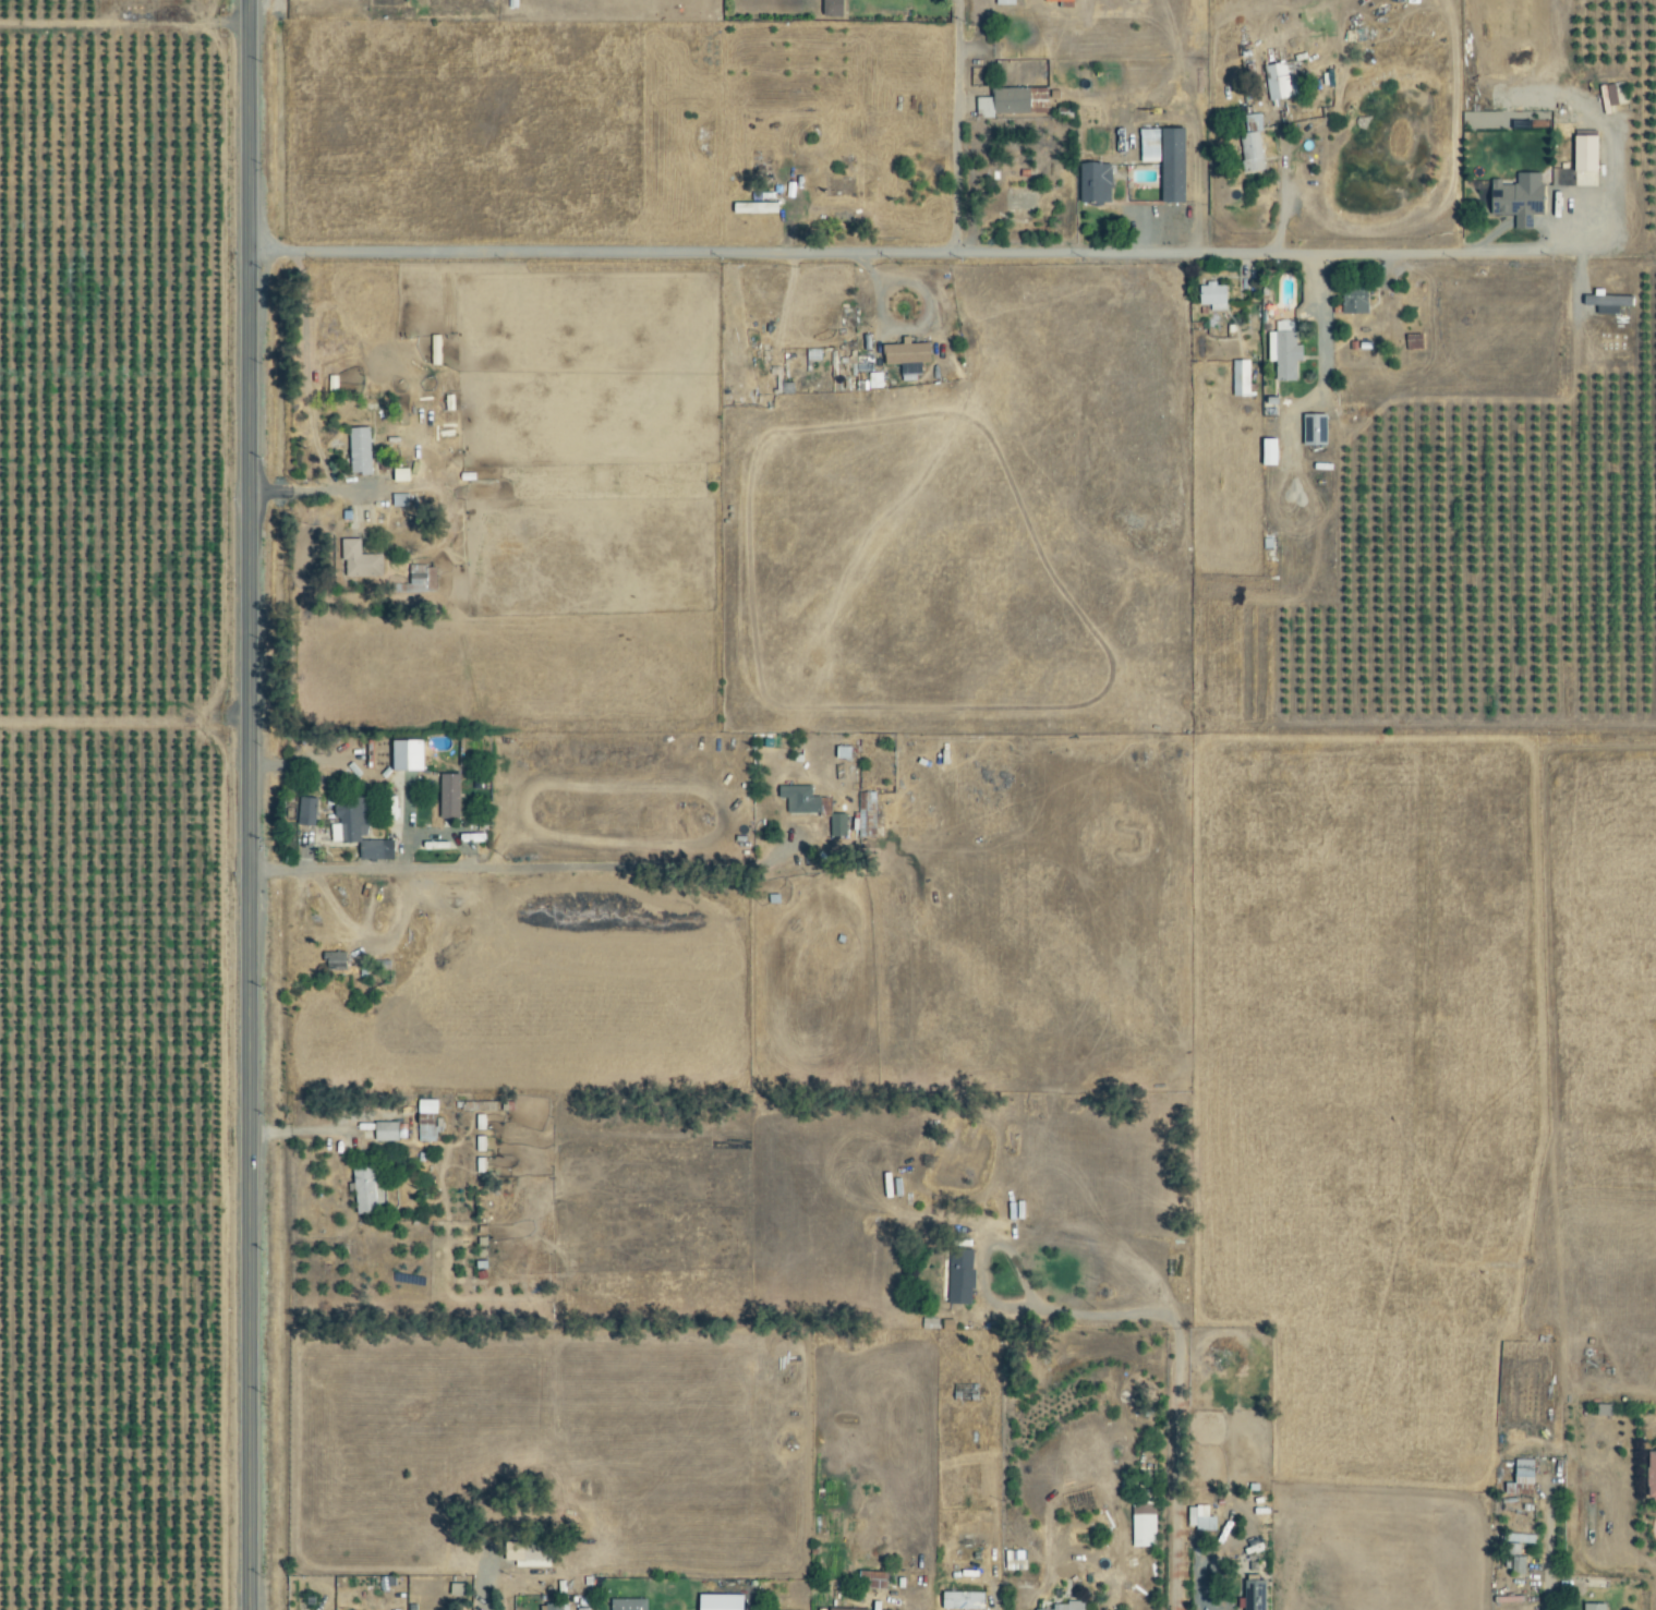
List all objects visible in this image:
building: (834, 8)
road: (980, 33)
building: (1281, 77)
building: (1012, 101)
road: (1190, 122)
road: (953, 125)
building: (1249, 144)
building: (1582, 154)
building: (1163, 159)
building: (1561, 177)
building: (1091, 183)
building: (1514, 198)
building: (1015, 203)
road: (934, 252)
building: (1210, 293)
building: (1352, 303)
building: (1604, 303)
building: (1281, 351)
building: (910, 359)
building: (1240, 378)
building: (875, 380)
building: (362, 450)
building: (400, 500)
building: (360, 560)
building: (424, 581)
road: (124, 717)
building: (411, 755)
road: (366, 773)
building: (451, 797)
building: (801, 799)
road: (249, 804)
building: (307, 811)
building: (839, 825)
building: (360, 830)
road: (444, 834)
road: (525, 867)
building: (390, 1131)
building: (366, 1189)
road: (981, 1255)
building: (958, 1275)
road: (1176, 1392)
building: (1649, 1477)
building: (1519, 1478)
building: (1201, 1517)
building: (1141, 1525)
road: (1542, 1549)
building: (527, 1551)
road: (1197, 1567)
building: (869, 1579)
building: (1252, 1595)
building: (958, 1600)
building: (716, 1601)
building: (630, 1603)
building: (1065, 1606)
building: (1591, 1606)
building: (554, 1607)
building: (583, 1609)
building: (844, 1609)
building: (1036, 1609)

